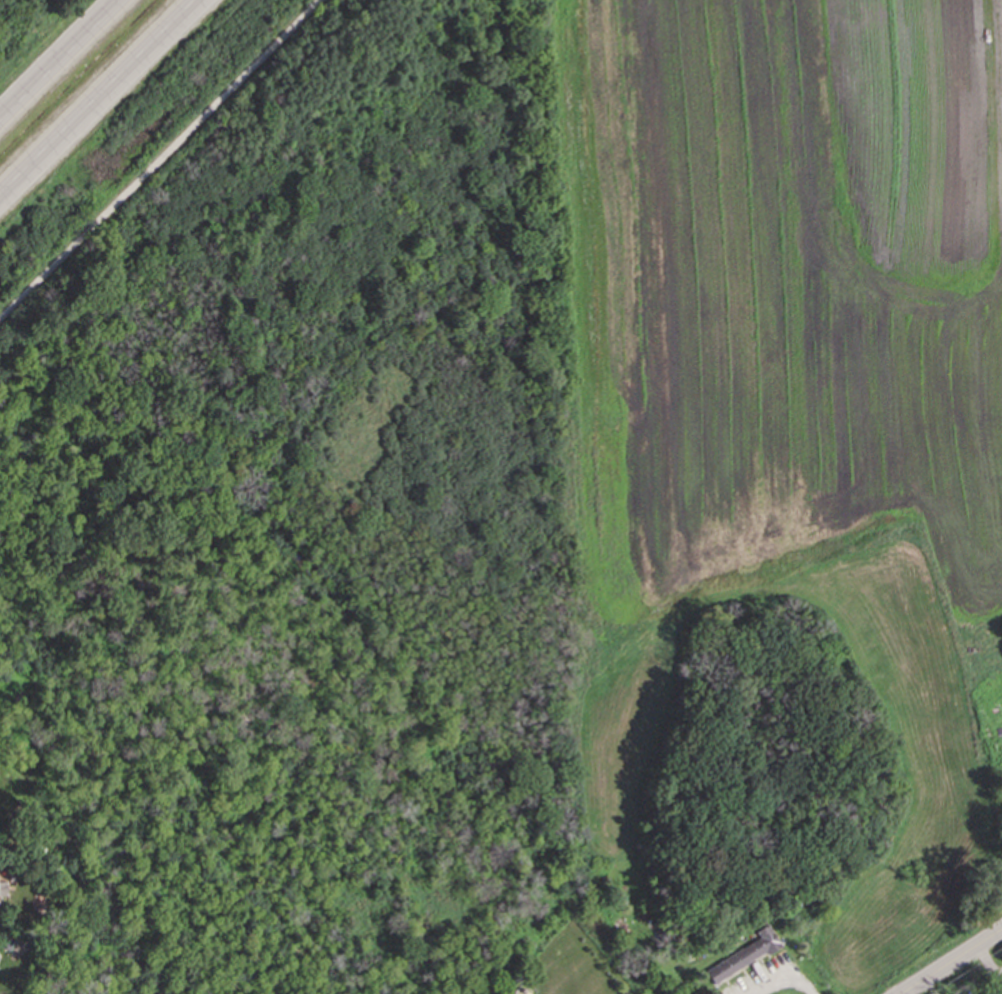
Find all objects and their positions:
road: (68, 69)
road: (108, 108)
road: (160, 159)
building: (745, 958)
road: (959, 967)
road: (784, 976)
building: (523, 992)

